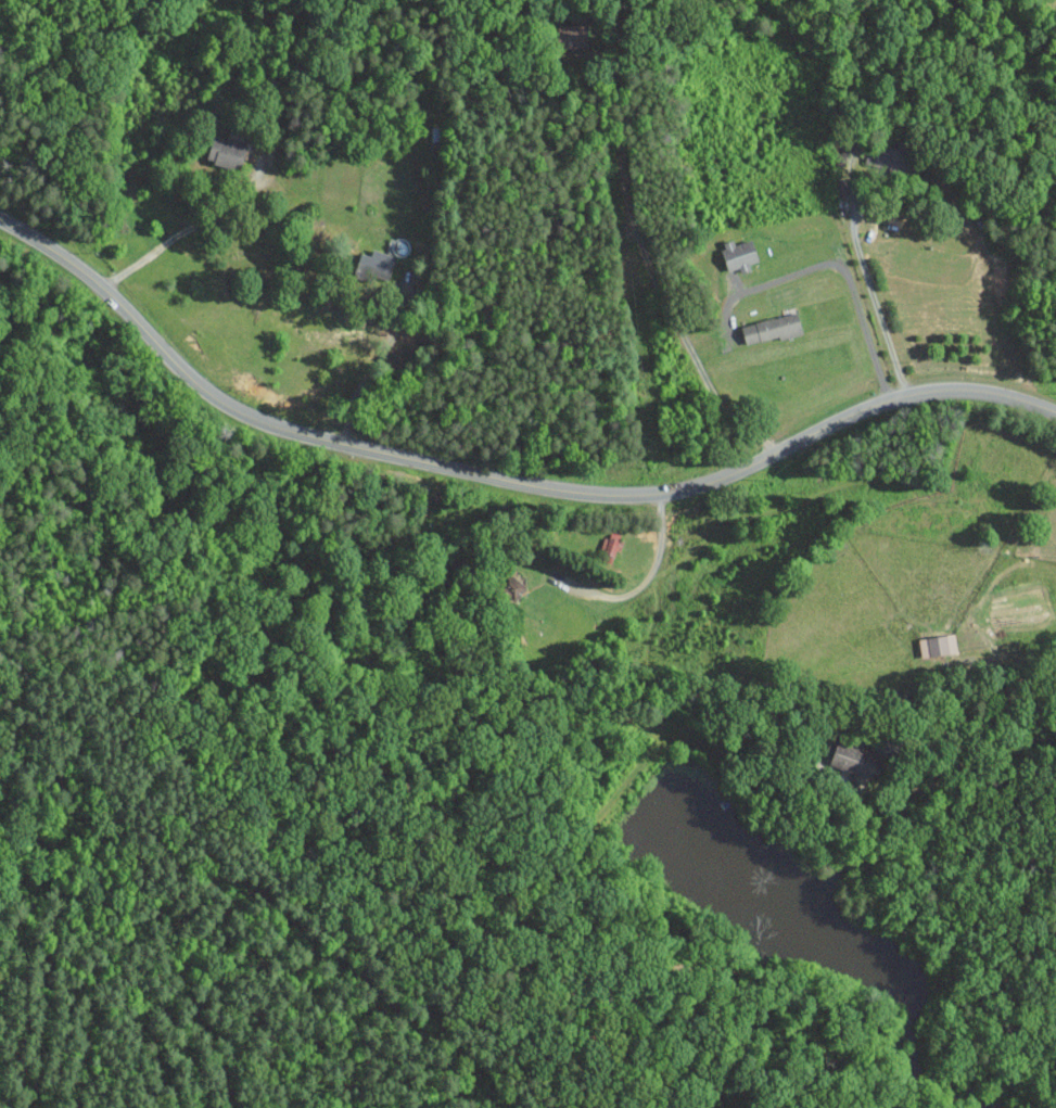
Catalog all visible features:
building: (572, 36)
building: (226, 152)
building: (891, 157)
road: (187, 231)
building: (739, 254)
building: (376, 264)
road: (653, 270)
road: (850, 280)
road: (870, 285)
building: (773, 328)
road: (379, 360)
road: (502, 476)
road: (639, 586)
building: (938, 645)
road: (977, 728)

